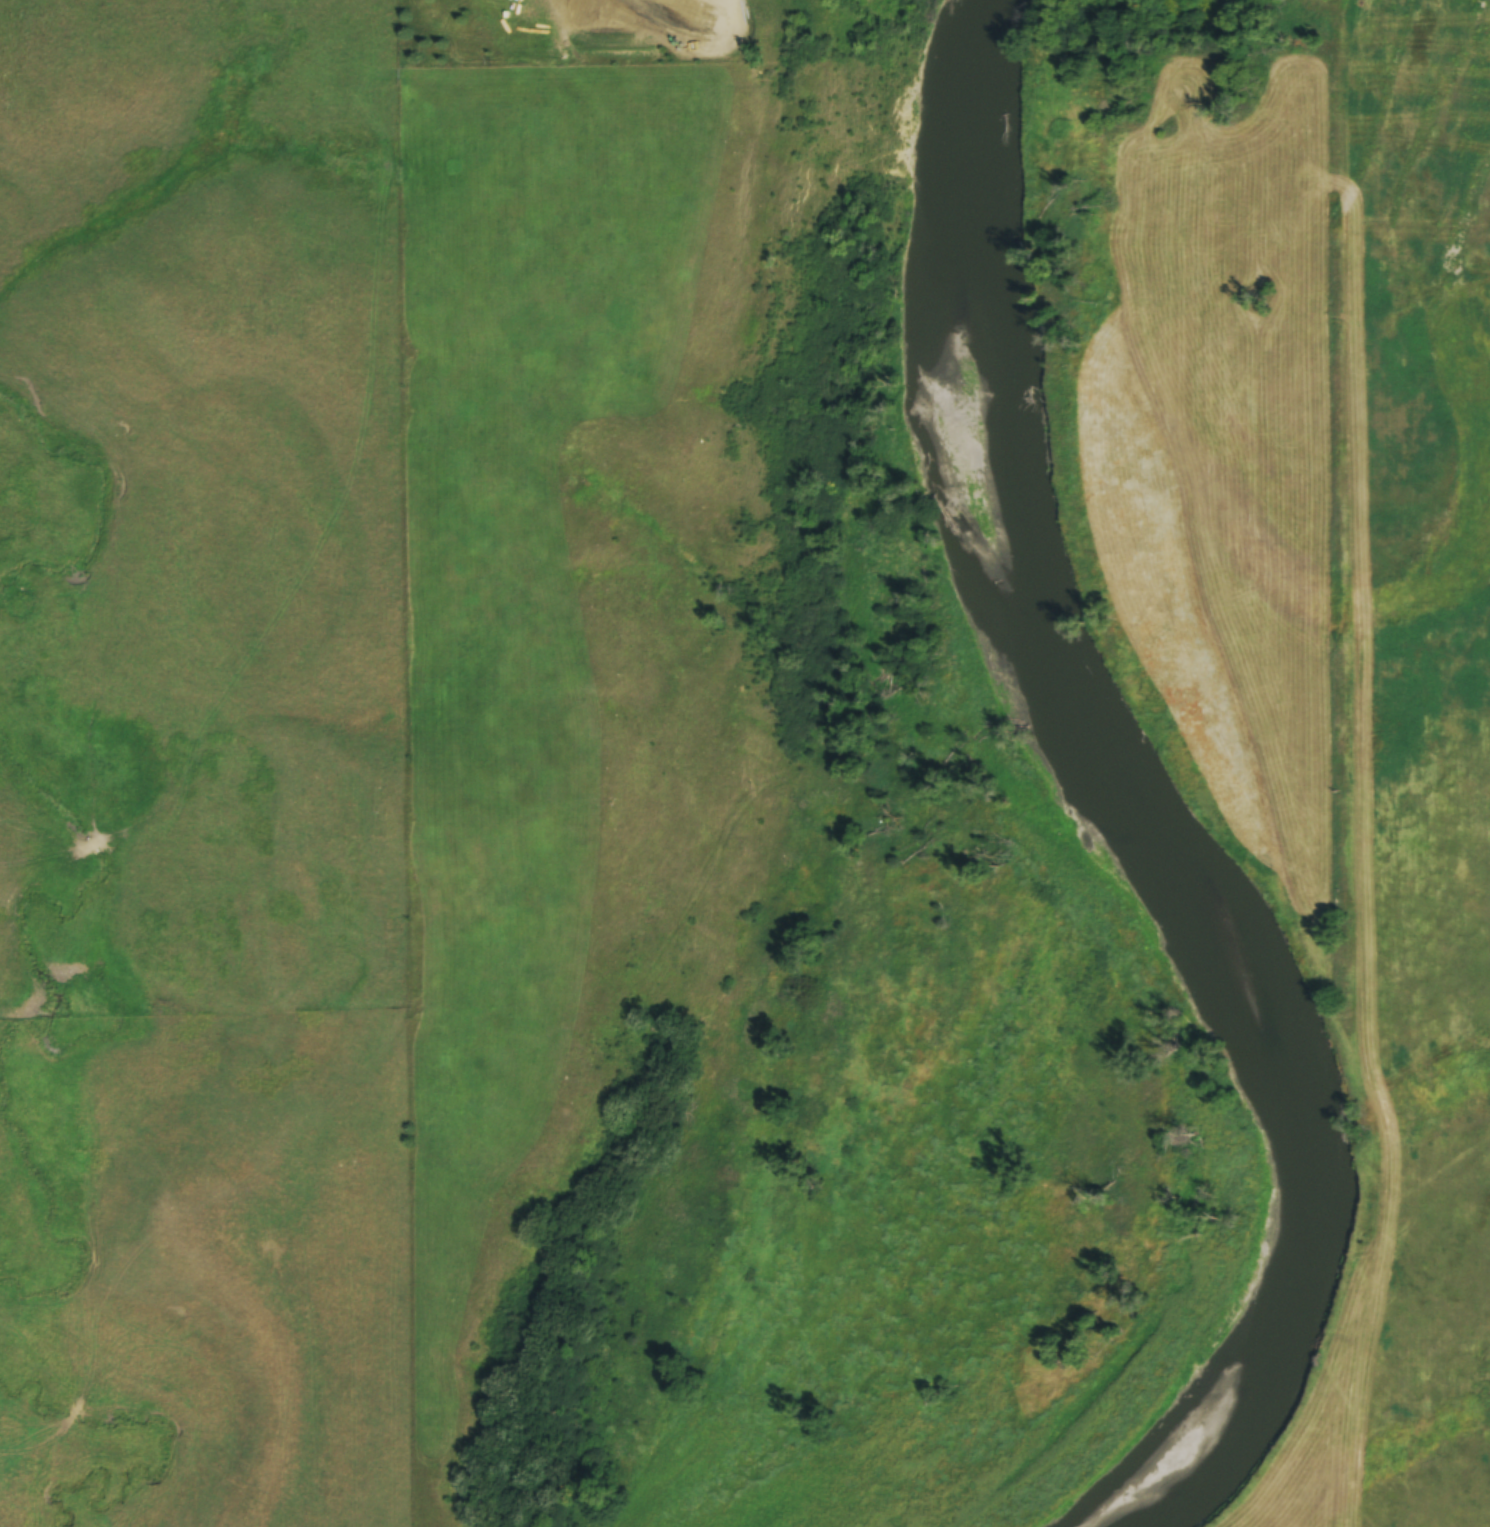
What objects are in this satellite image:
river: (1150, 802)

